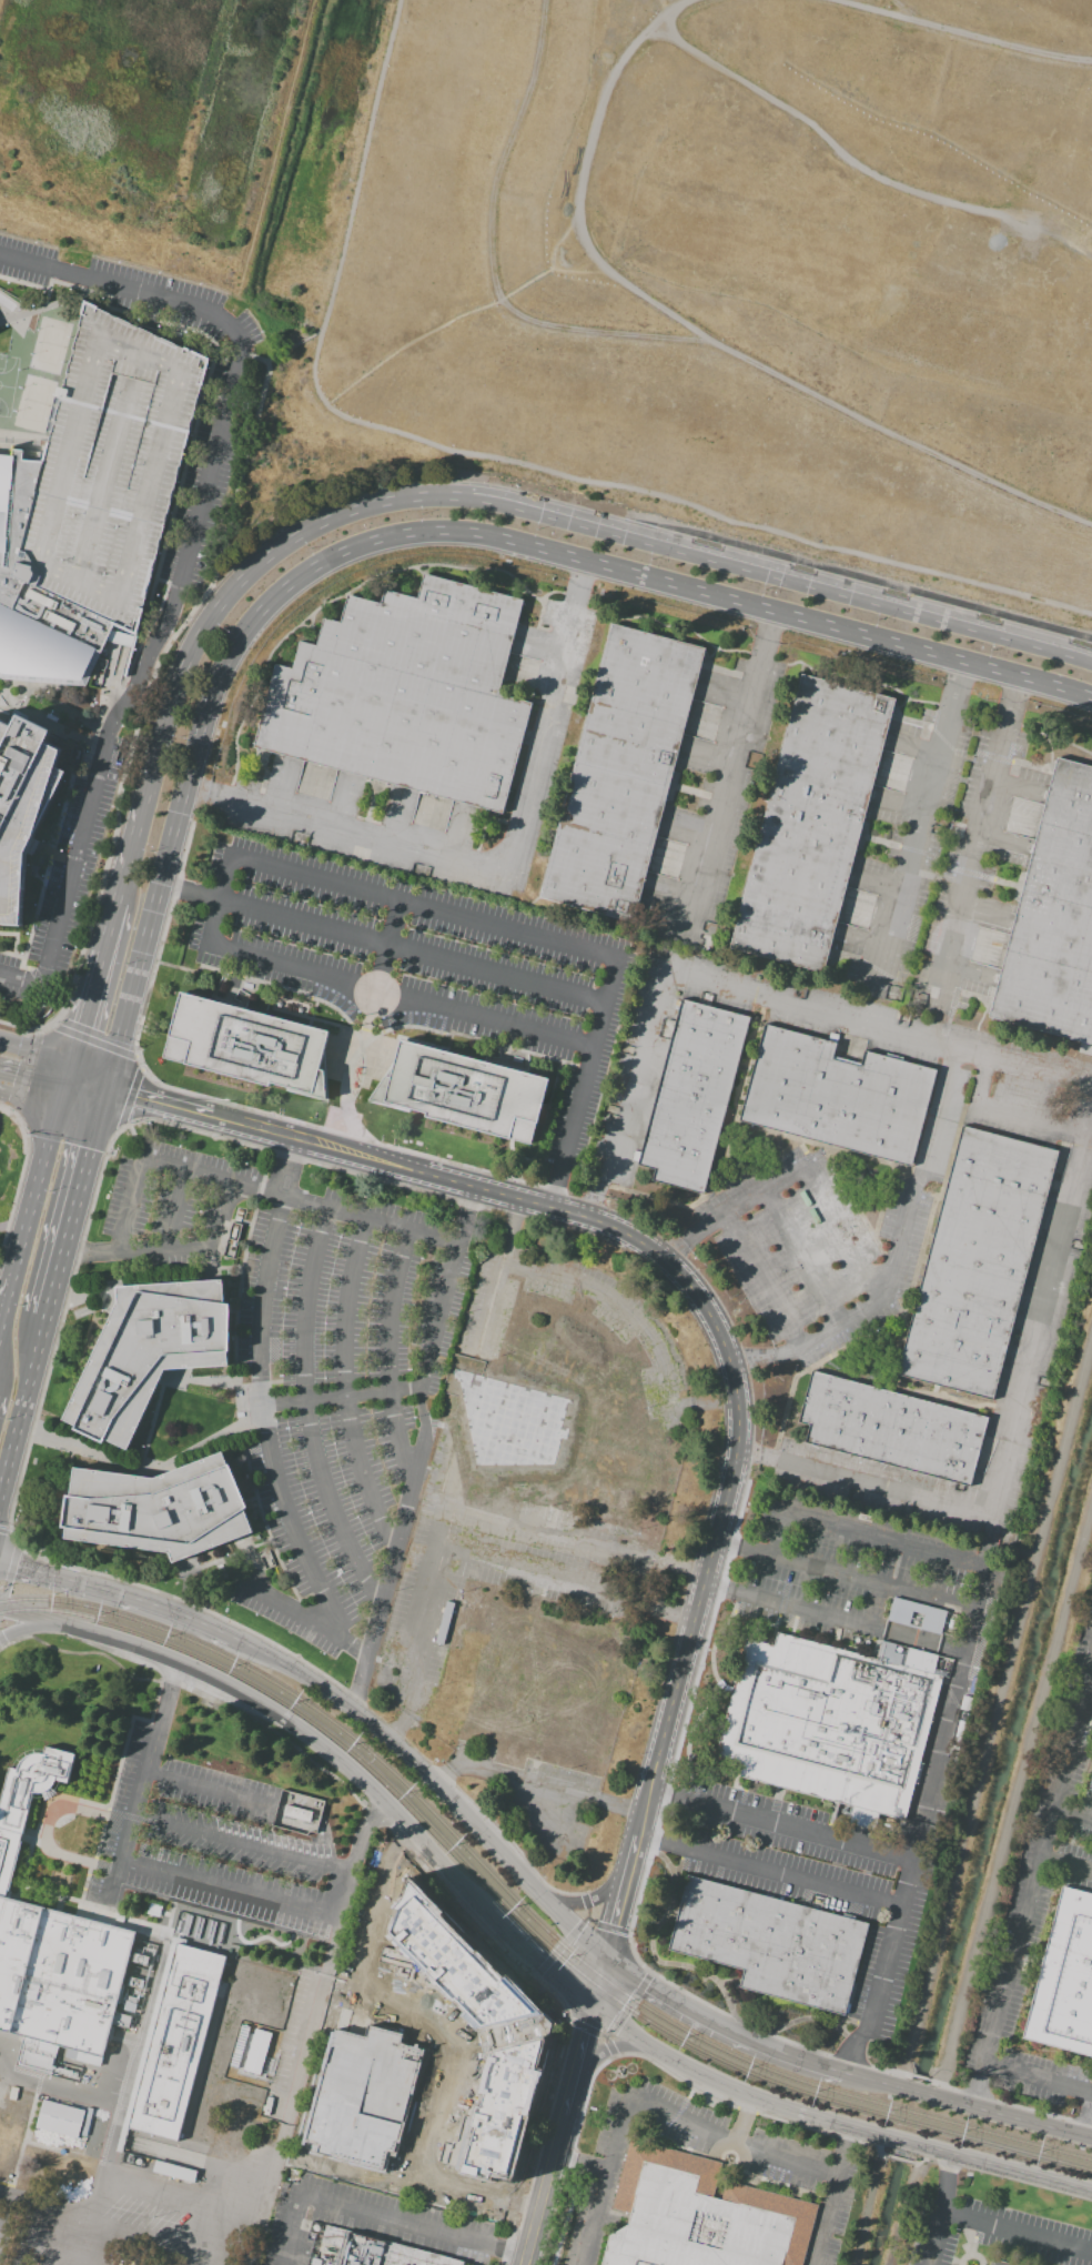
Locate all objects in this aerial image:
road: (894, 7)
road: (968, 31)
road: (852, 161)
road: (362, 169)
road: (491, 255)
landfill: (716, 270)
park: (6, 304)
road: (151, 320)
road: (455, 320)
road: (704, 334)
road: (295, 344)
park: (48, 345)
road: (257, 360)
park: (6, 383)
road: (203, 396)
park: (33, 404)
parking lot: (212, 469)
road: (242, 470)
building: (113, 471)
parking garage: (113, 471)
road: (669, 500)
road: (694, 551)
road: (185, 561)
road: (828, 571)
road: (214, 593)
road: (702, 595)
building: (38, 598)
road: (204, 620)
building: (404, 693)
building: (620, 772)
building: (24, 812)
road: (179, 812)
road: (134, 818)
building: (810, 823)
parking lot: (67, 889)
road: (191, 890)
road: (221, 898)
road: (423, 906)
building: (1053, 915)
road: (104, 924)
road: (387, 945)
road: (413, 950)
road: (400, 996)
road: (80, 1009)
traffic signals: (77, 1026)
building: (253, 1046)
road: (32, 1053)
road: (588, 1063)
traffic signals: (14, 1076)
road: (30, 1077)
road: (82, 1080)
building: (463, 1093)
building: (691, 1095)
building: (835, 1095)
traffic signals: (136, 1097)
road: (165, 1104)
road: (320, 1145)
traffic signals: (87, 1151)
road: (164, 1167)
road: (282, 1182)
road: (555, 1188)
parking lot: (170, 1202)
road: (73, 1204)
road: (178, 1210)
road: (31, 1211)
road: (466, 1214)
road: (386, 1221)
road: (185, 1246)
road: (80, 1252)
building: (975, 1262)
road: (435, 1332)
building: (150, 1350)
road: (388, 1350)
road: (344, 1383)
parking lot: (343, 1390)
road: (342, 1397)
road: (22, 1409)
road: (737, 1409)
road: (309, 1410)
road: (266, 1418)
building: (890, 1428)
road: (756, 1453)
road: (883, 1487)
building: (158, 1508)
road: (459, 1508)
road: (6, 1531)
road: (12, 1540)
road: (985, 1541)
road: (390, 1568)
road: (9, 1581)
parking lot: (869, 1582)
road: (876, 1582)
road: (984, 1588)
road: (117, 1592)
building: (916, 1614)
road: (39, 1618)
road: (307, 1619)
road: (39, 1629)
road: (1, 1642)
road: (168, 1694)
building: (836, 1721)
road: (309, 1734)
road: (941, 1754)
road: (431, 1779)
building: (32, 1782)
road: (537, 1783)
building: (1090, 1788)
road: (211, 1791)
road: (140, 1794)
road: (1013, 1801)
road: (1072, 1812)
building: (297, 1813)
road: (297, 1814)
road: (46, 1822)
road: (806, 1830)
road: (324, 1843)
road: (241, 1844)
road: (353, 1855)
road: (1065, 1864)
road: (1035, 1869)
parking lot: (821, 1881)
road: (113, 1882)
road: (229, 1889)
road: (858, 1894)
road: (621, 1896)
road: (586, 1900)
railway: (525, 1909)
railway: (525, 1920)
road: (607, 1927)
road: (573, 1941)
building: (775, 1945)
building: (353, 1953)
road: (634, 1955)
traffic signals: (606, 1957)
building: (454, 1962)
road: (537, 1962)
building: (58, 1977)
road: (598, 1981)
building: (1065, 1982)
road: (556, 1997)
traffic signals: (591, 2005)
road: (628, 2005)
road: (437, 2014)
road: (358, 2017)
road: (718, 2025)
road: (596, 2033)
road: (429, 2040)
road: (614, 2046)
building: (172, 2047)
road: (575, 2062)
road: (1037, 2077)
road: (863, 2080)
road: (449, 2084)
road: (727, 2088)
road: (973, 2092)
road: (916, 2094)
road: (80, 2096)
building: (362, 2100)
building: (504, 2107)
road: (1032, 2111)
road: (742, 2120)
road: (1019, 2121)
road: (1088, 2122)
building: (55, 2128)
road: (730, 2137)
road: (906, 2144)
road: (401, 2157)
building: (132, 2160)
road: (403, 2166)
building: (174, 2172)
road: (1011, 2173)
road: (603, 2178)
road: (946, 2185)
road: (543, 2192)
road: (829, 2197)
road: (867, 2199)
road: (1, 2202)
building: (697, 2217)
road: (236, 2218)
road: (392, 2221)
road: (290, 2231)
road: (1018, 2234)
road: (27, 2235)
road: (936, 2239)
road: (251, 2244)
building: (368, 2251)
road: (505, 2252)
building: (997, 2263)

